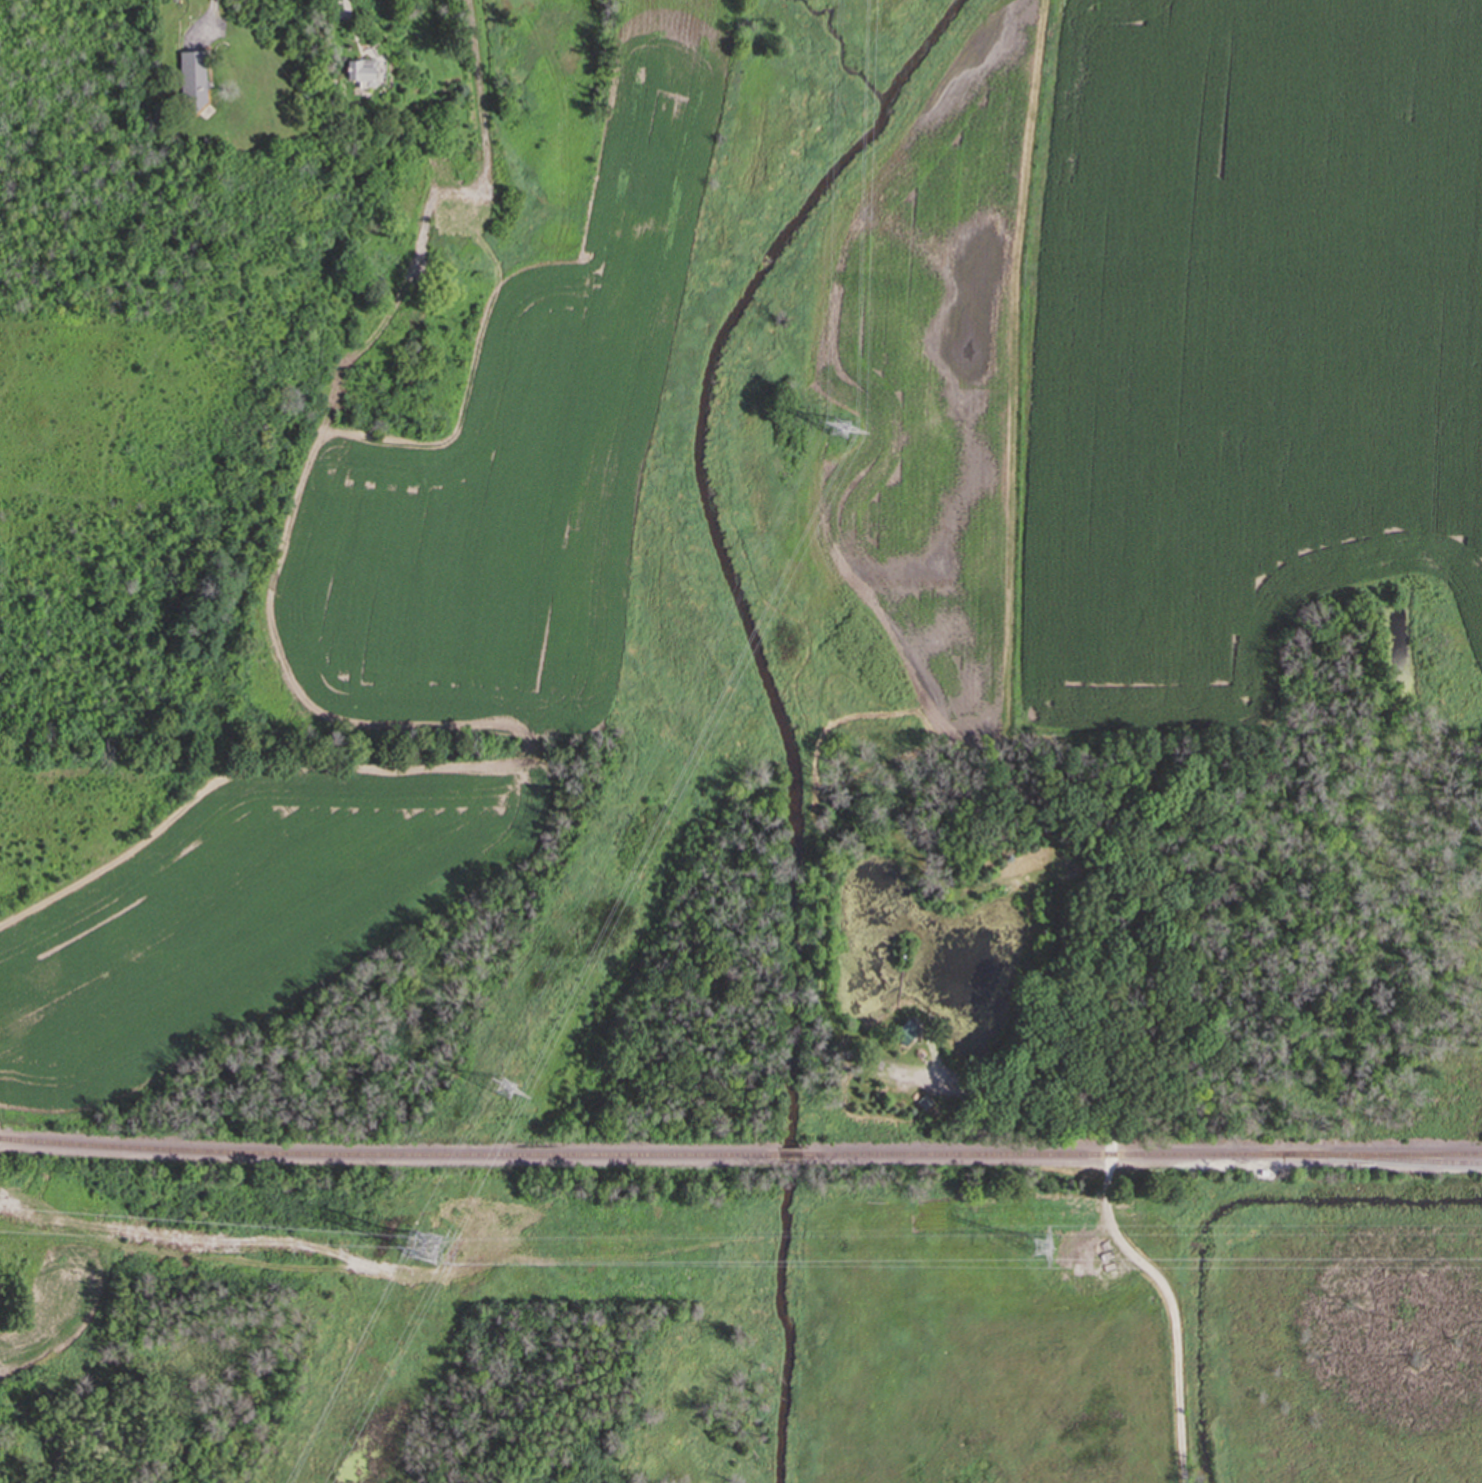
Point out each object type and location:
road: (343, 2)
road: (215, 4)
building: (361, 71)
building: (191, 80)
crop: (1161, 354)
power tower: (839, 430)
crop: (523, 446)
road: (294, 682)
crop: (241, 915)
building: (906, 1030)
power tower: (505, 1088)
railway: (388, 1155)
railway: (789, 1155)
railway: (1142, 1156)
railway: (1381, 1160)
power tower: (1043, 1246)
power tower: (428, 1249)
road: (1166, 1292)
crop: (54, 1308)

